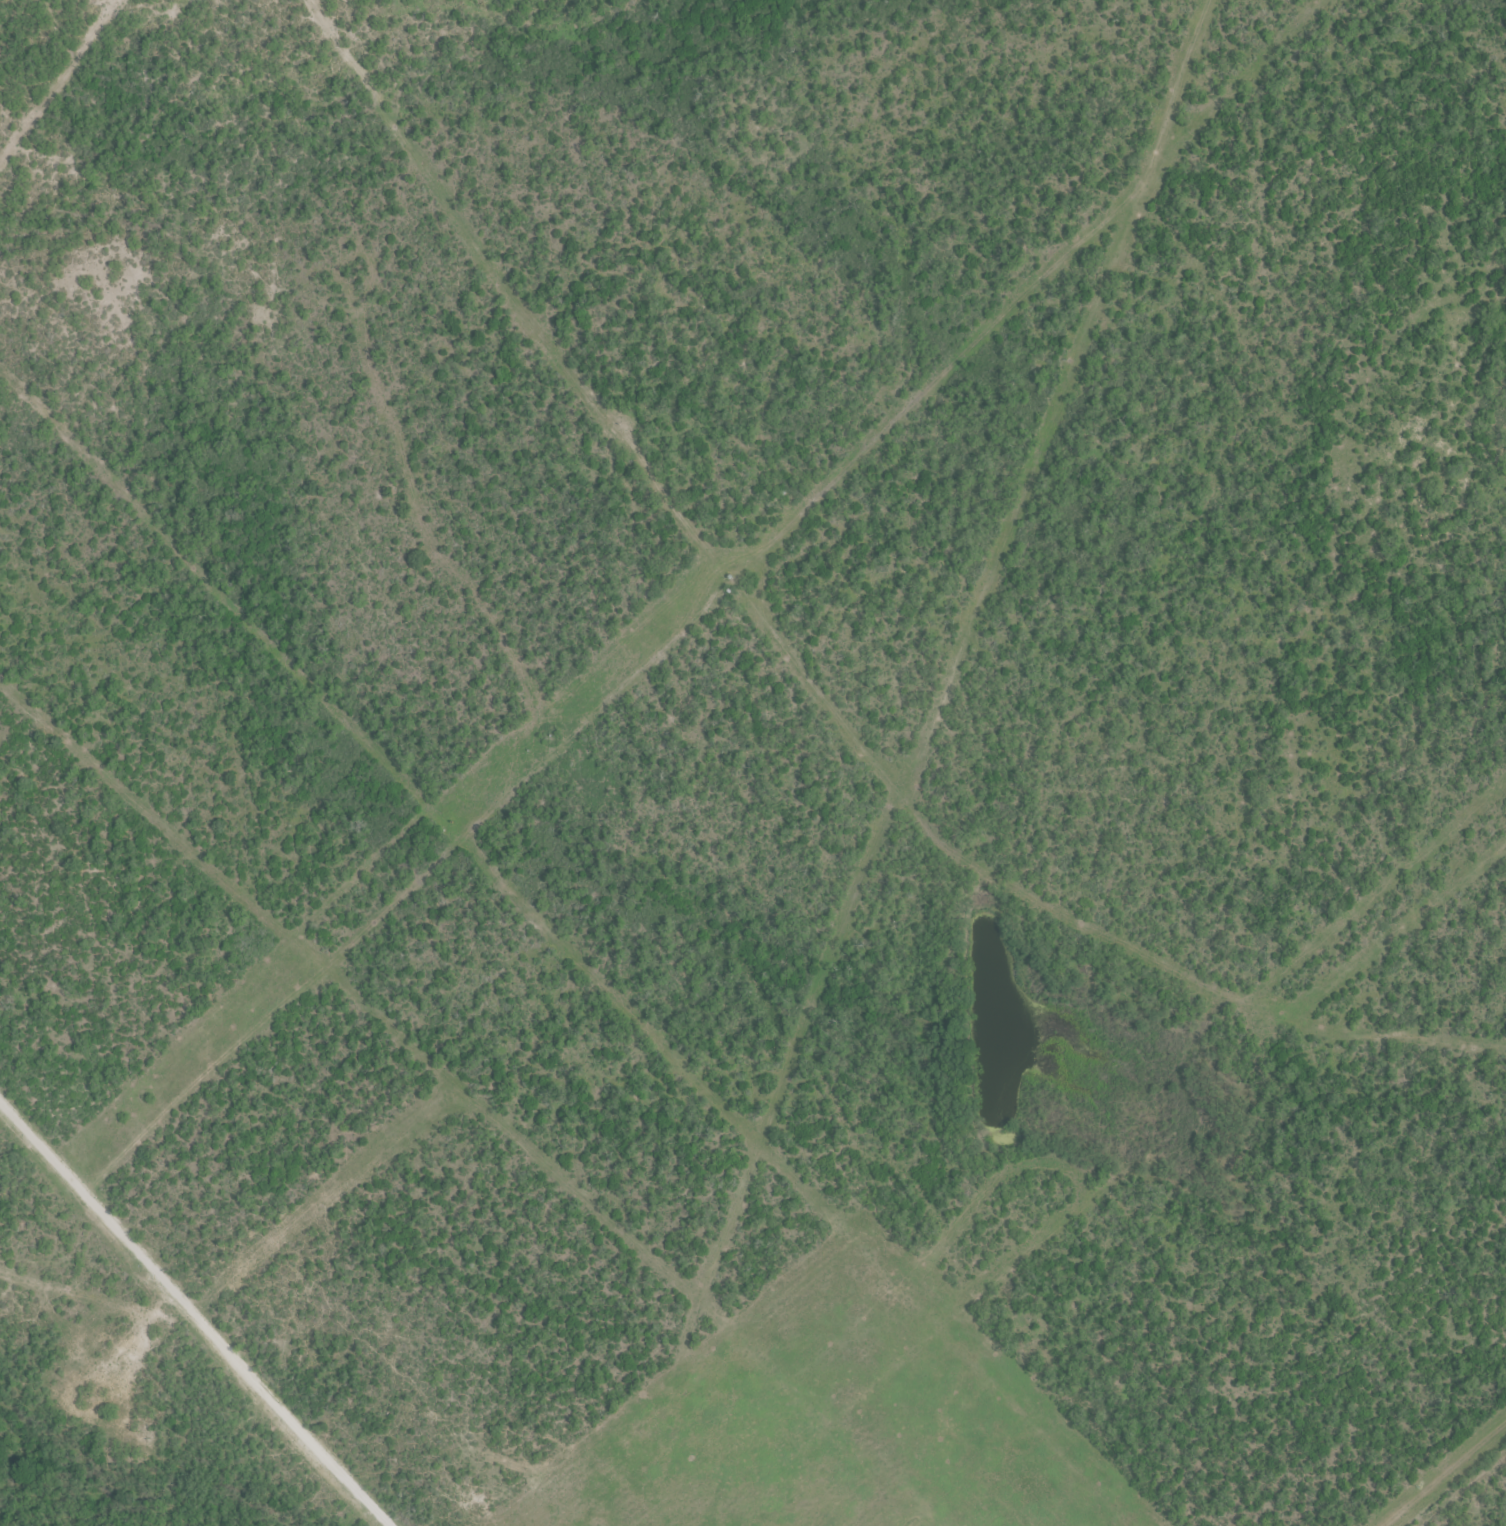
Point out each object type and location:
road: (193, 1317)

